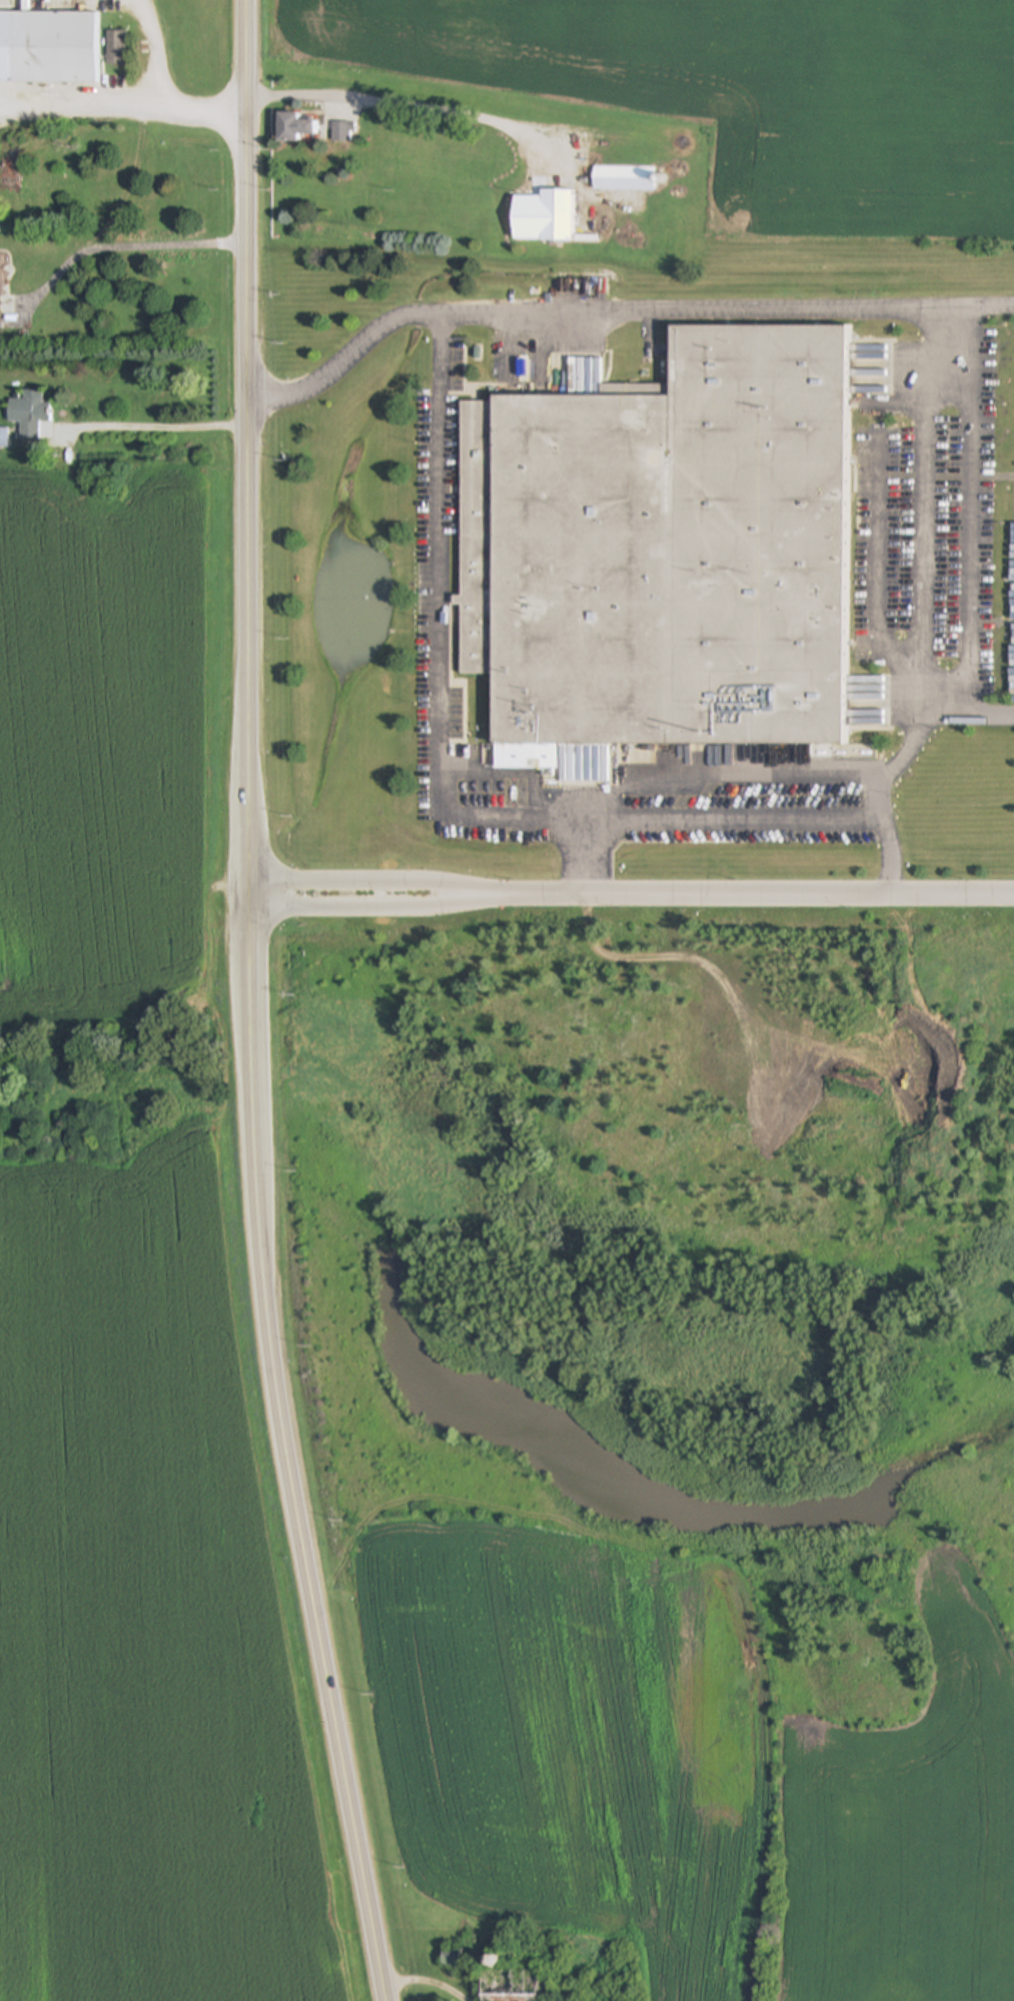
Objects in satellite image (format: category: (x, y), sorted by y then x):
building: (48, 48)
building: (116, 48)
road: (154, 50)
road: (80, 100)
road: (206, 111)
building: (293, 128)
building: (342, 132)
building: (623, 179)
building: (556, 216)
road: (127, 247)
building: (0, 283)
road: (728, 309)
road: (350, 358)
building: (28, 414)
road: (158, 428)
building: (4, 438)
road: (919, 486)
road: (968, 518)
building: (663, 552)
road: (880, 589)
road: (516, 821)
road: (577, 858)
road: (362, 882)
road: (743, 896)
road: (362, 909)
road: (250, 1005)
crop: (582, 1764)
road: (427, 1982)
building: (509, 1987)

